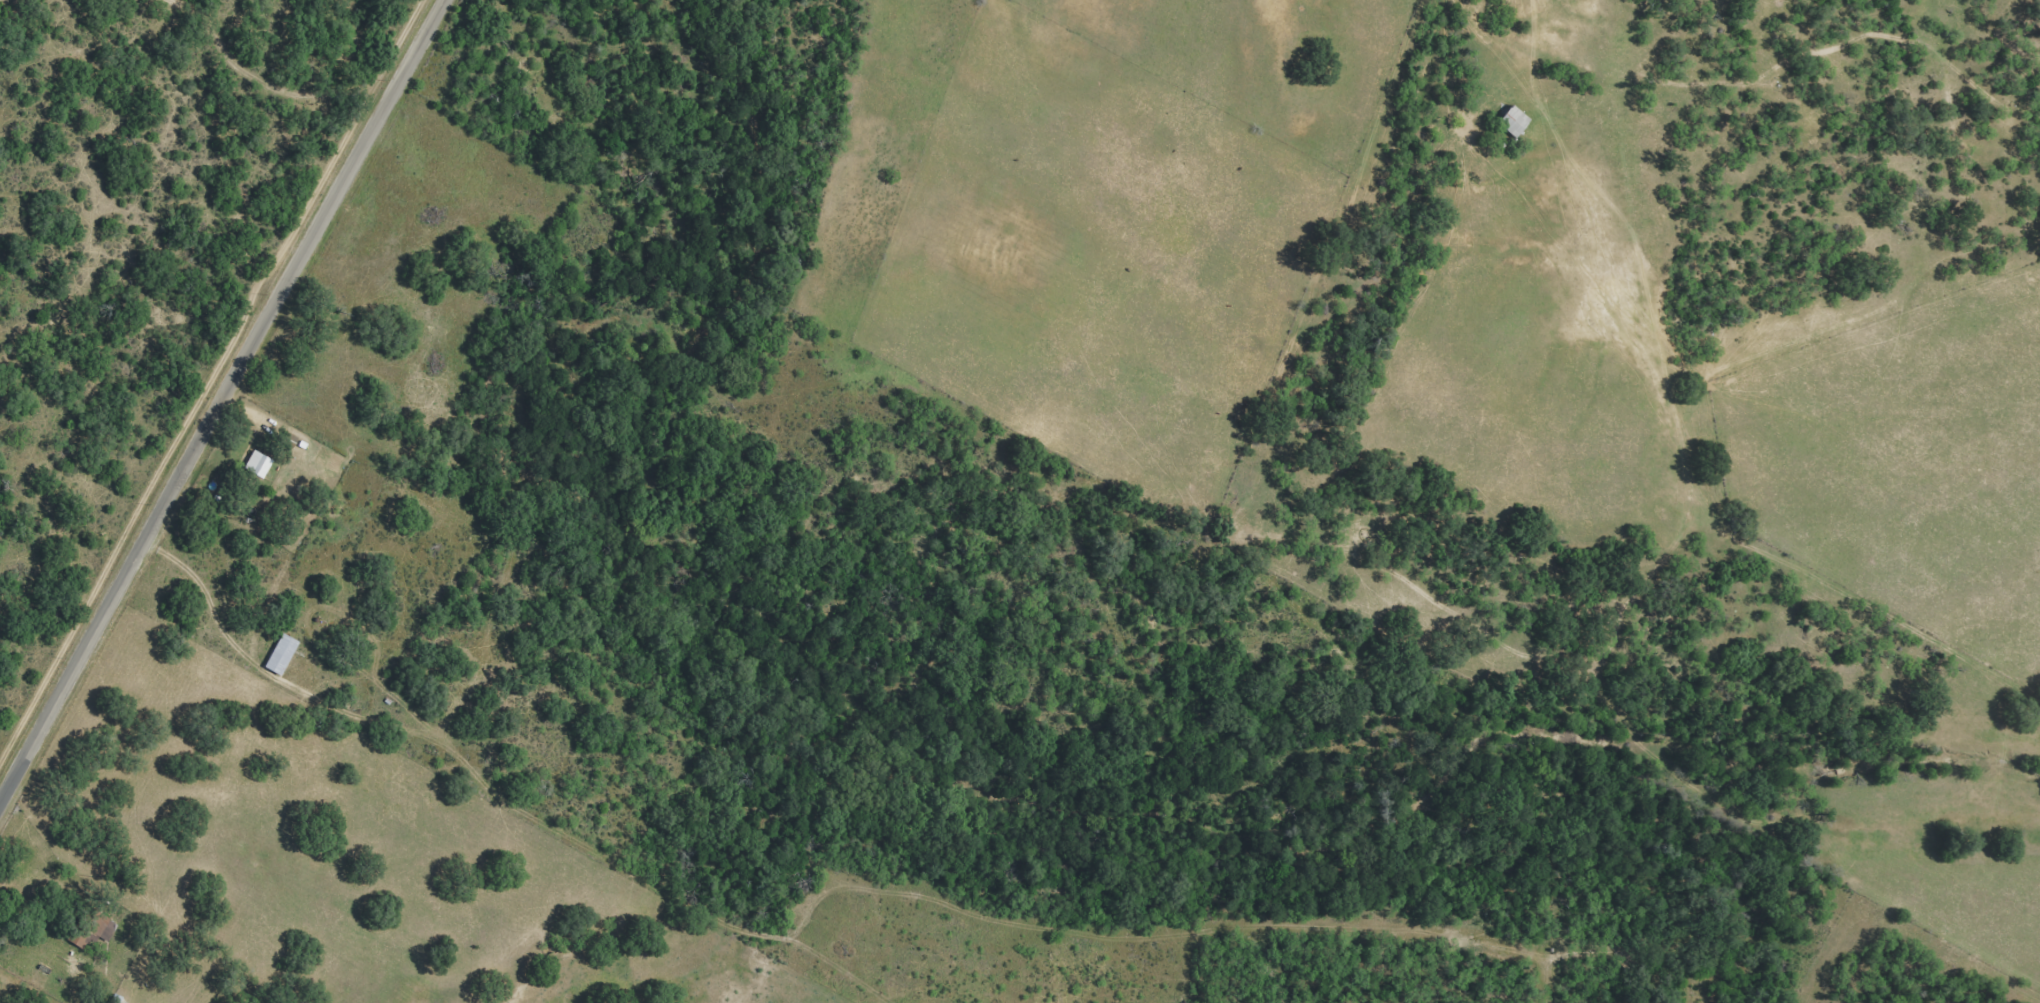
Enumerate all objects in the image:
building: (1510, 120)
road: (222, 402)
building: (256, 463)
building: (279, 653)
building: (102, 928)

